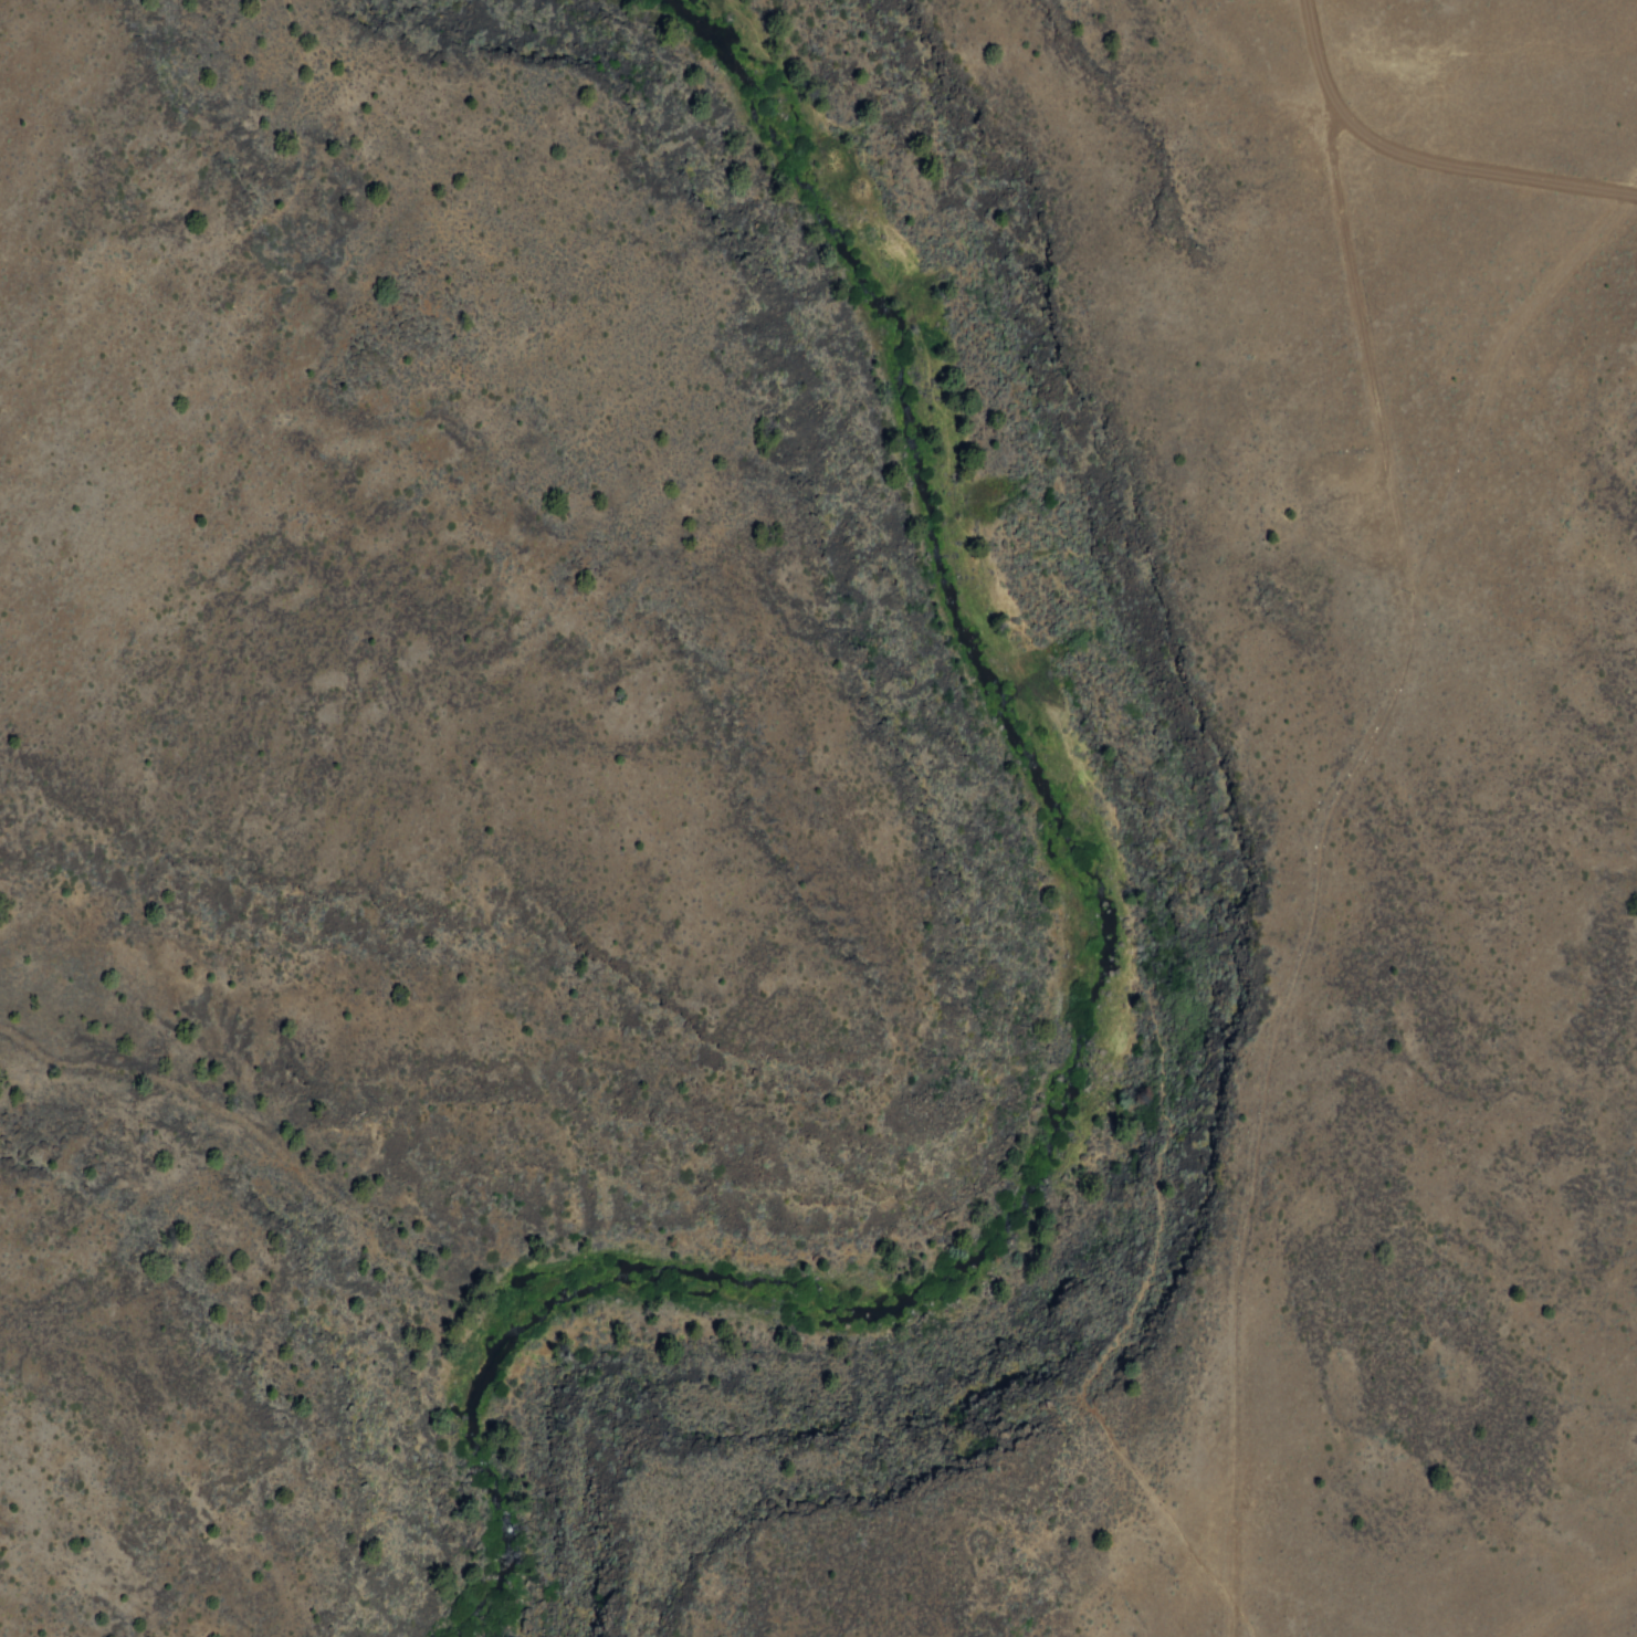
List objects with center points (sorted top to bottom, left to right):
road: (1499, 361)
road: (1339, 808)
road: (1575, 1598)

